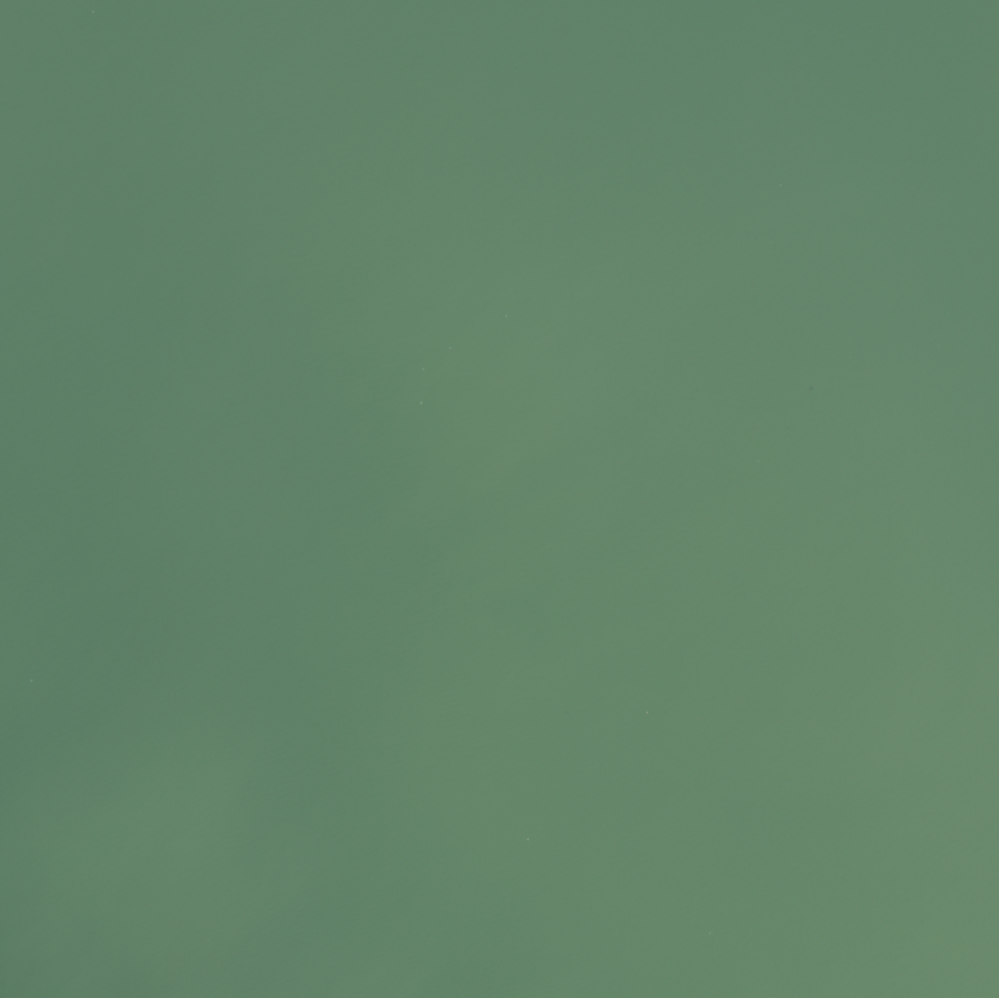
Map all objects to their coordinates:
river: (761, 151)

